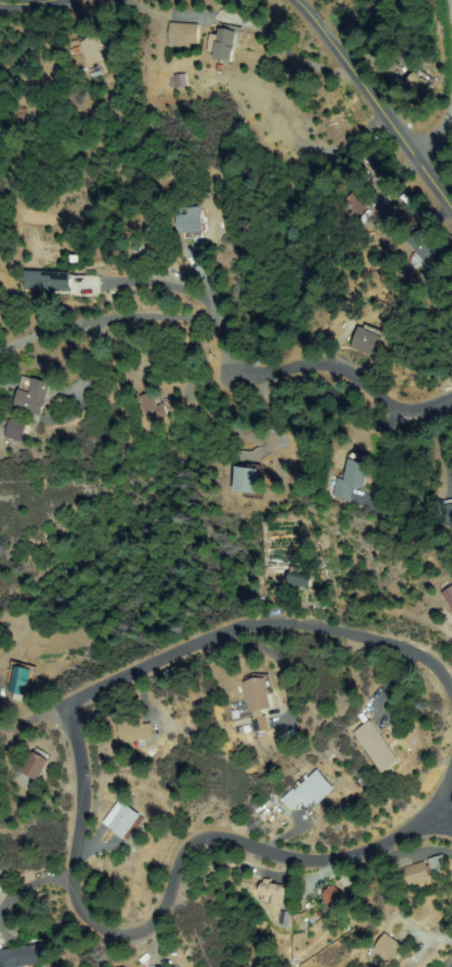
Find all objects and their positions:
road: (26, 6)
road: (450, 11)
building: (184, 34)
building: (225, 42)
building: (95, 48)
building: (420, 82)
road: (368, 109)
road: (448, 160)
building: (352, 203)
building: (191, 221)
building: (430, 252)
building: (48, 282)
building: (370, 339)
road: (350, 382)
building: (33, 396)
building: (153, 407)
building: (17, 429)
building: (354, 476)
building: (250, 480)
building: (448, 514)
building: (301, 578)
road: (272, 633)
building: (22, 678)
building: (259, 694)
road: (36, 727)
building: (259, 727)
building: (135, 729)
building: (377, 747)
building: (36, 765)
building: (311, 791)
road: (442, 804)
building: (126, 818)
building: (417, 874)
building: (273, 891)
road: (167, 897)
building: (336, 898)
building: (392, 949)
building: (24, 956)
road: (446, 959)
building: (165, 966)

